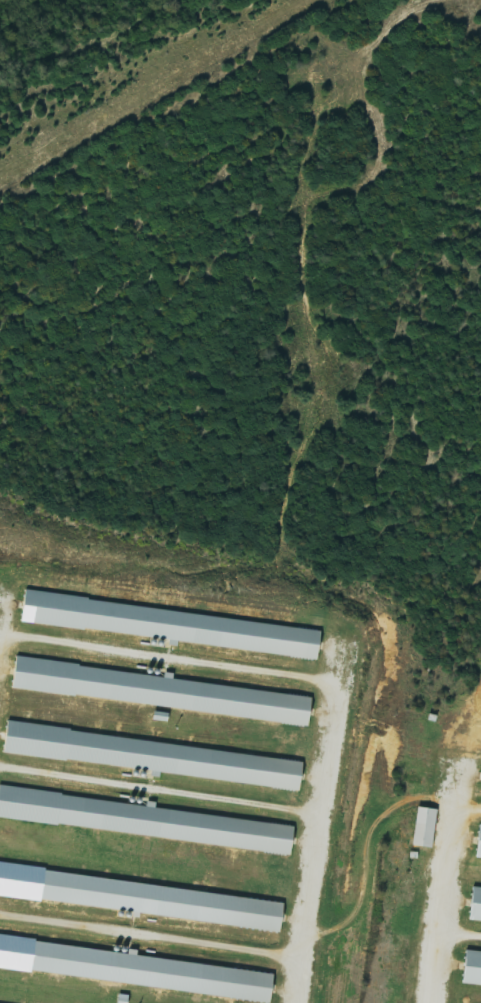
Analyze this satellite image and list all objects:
building: (176, 626)
building: (158, 691)
building: (157, 757)
building: (142, 820)
building: (427, 828)
building: (143, 899)
building: (478, 909)
building: (133, 970)
building: (474, 971)
building: (127, 999)

